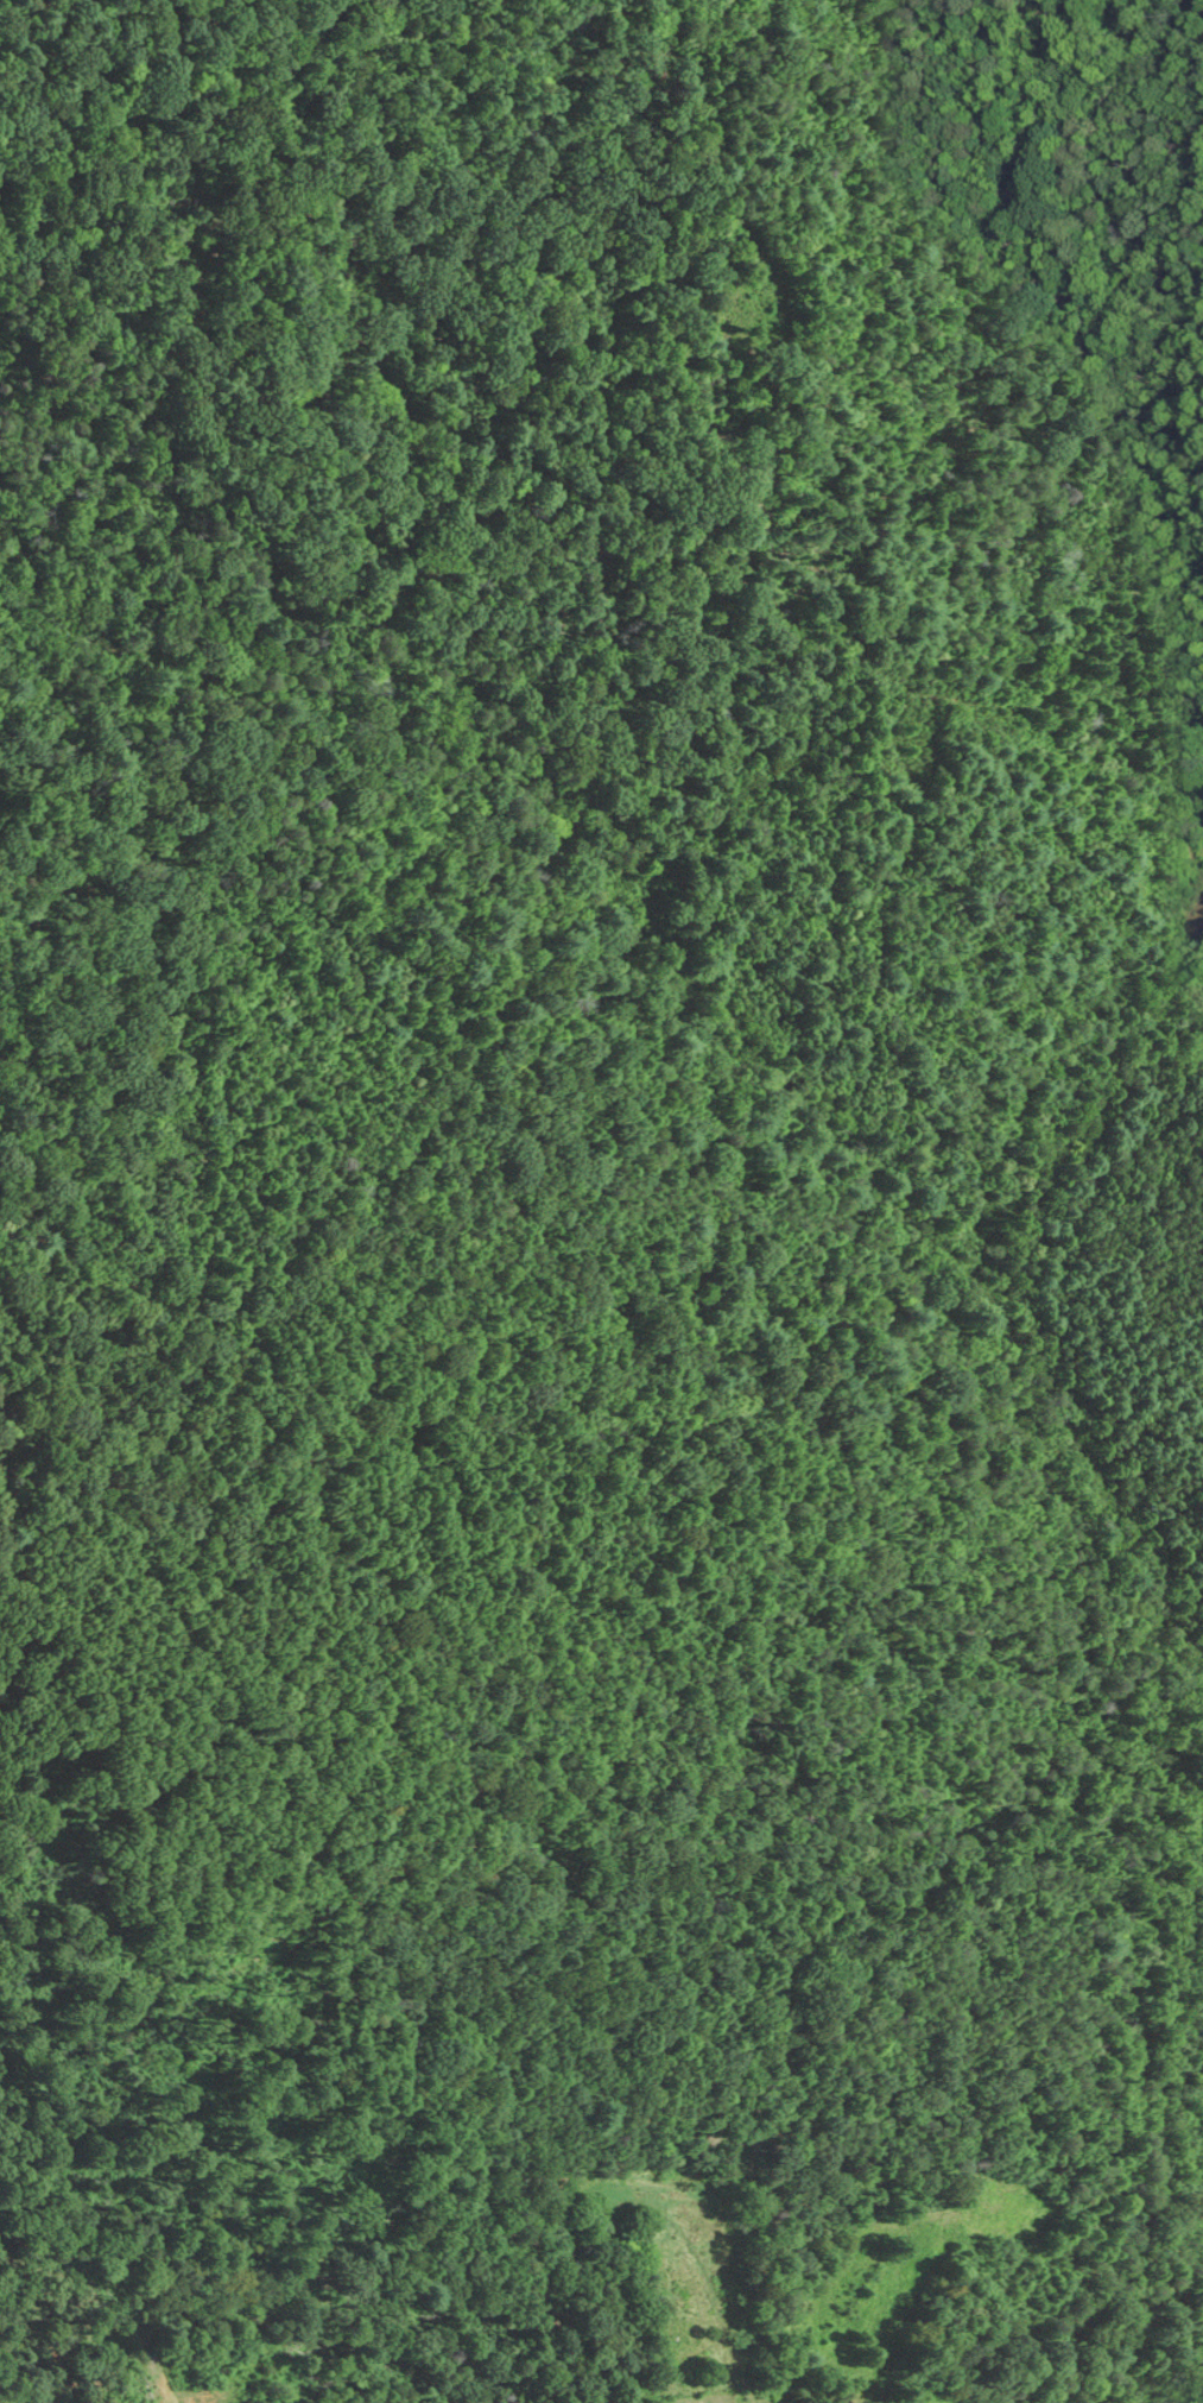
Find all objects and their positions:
road: (1145, 850)
river: (543, 862)
river: (1119, 1563)
road: (1123, 2060)

